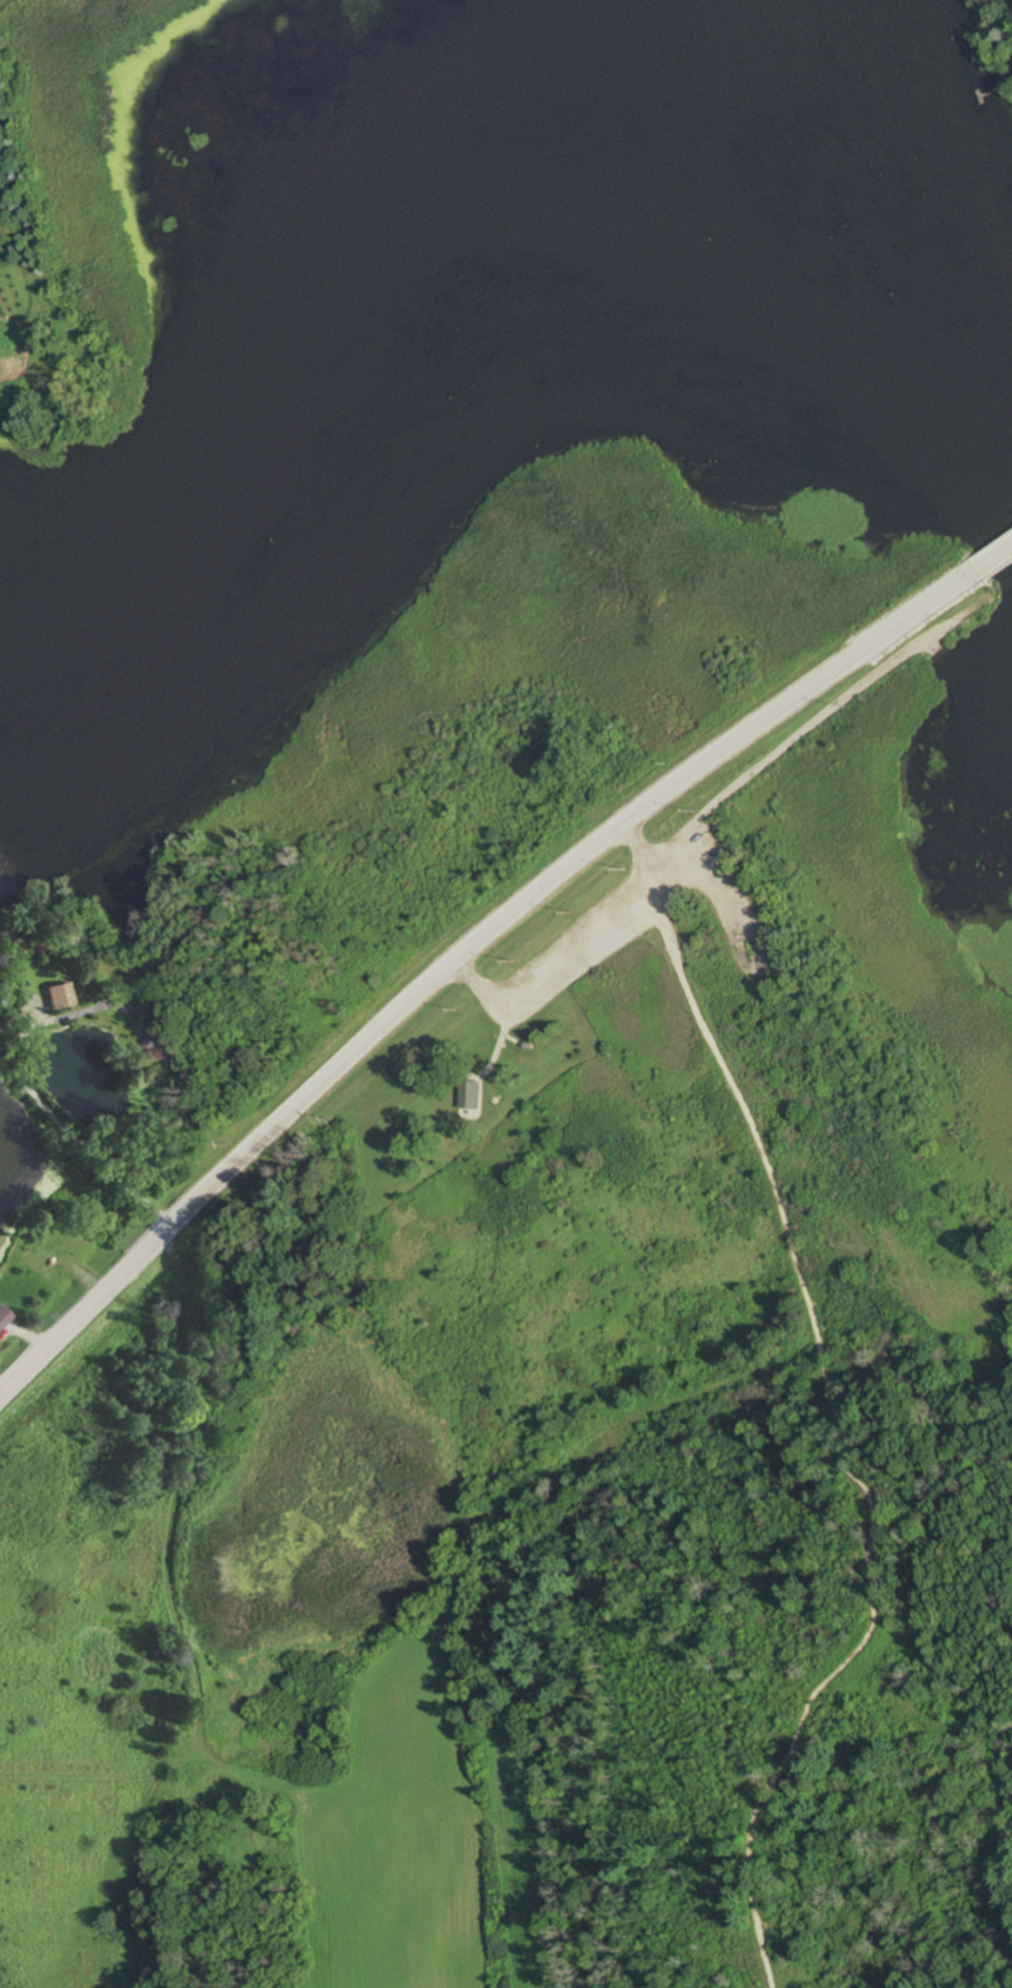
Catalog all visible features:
building: (1006, 6)
river: (481, 193)
road: (994, 563)
road: (926, 647)
road: (806, 723)
road: (573, 933)
road: (461, 952)
park: (629, 967)
building: (58, 995)
building: (158, 1041)
building: (468, 1094)
road: (52, 1116)

